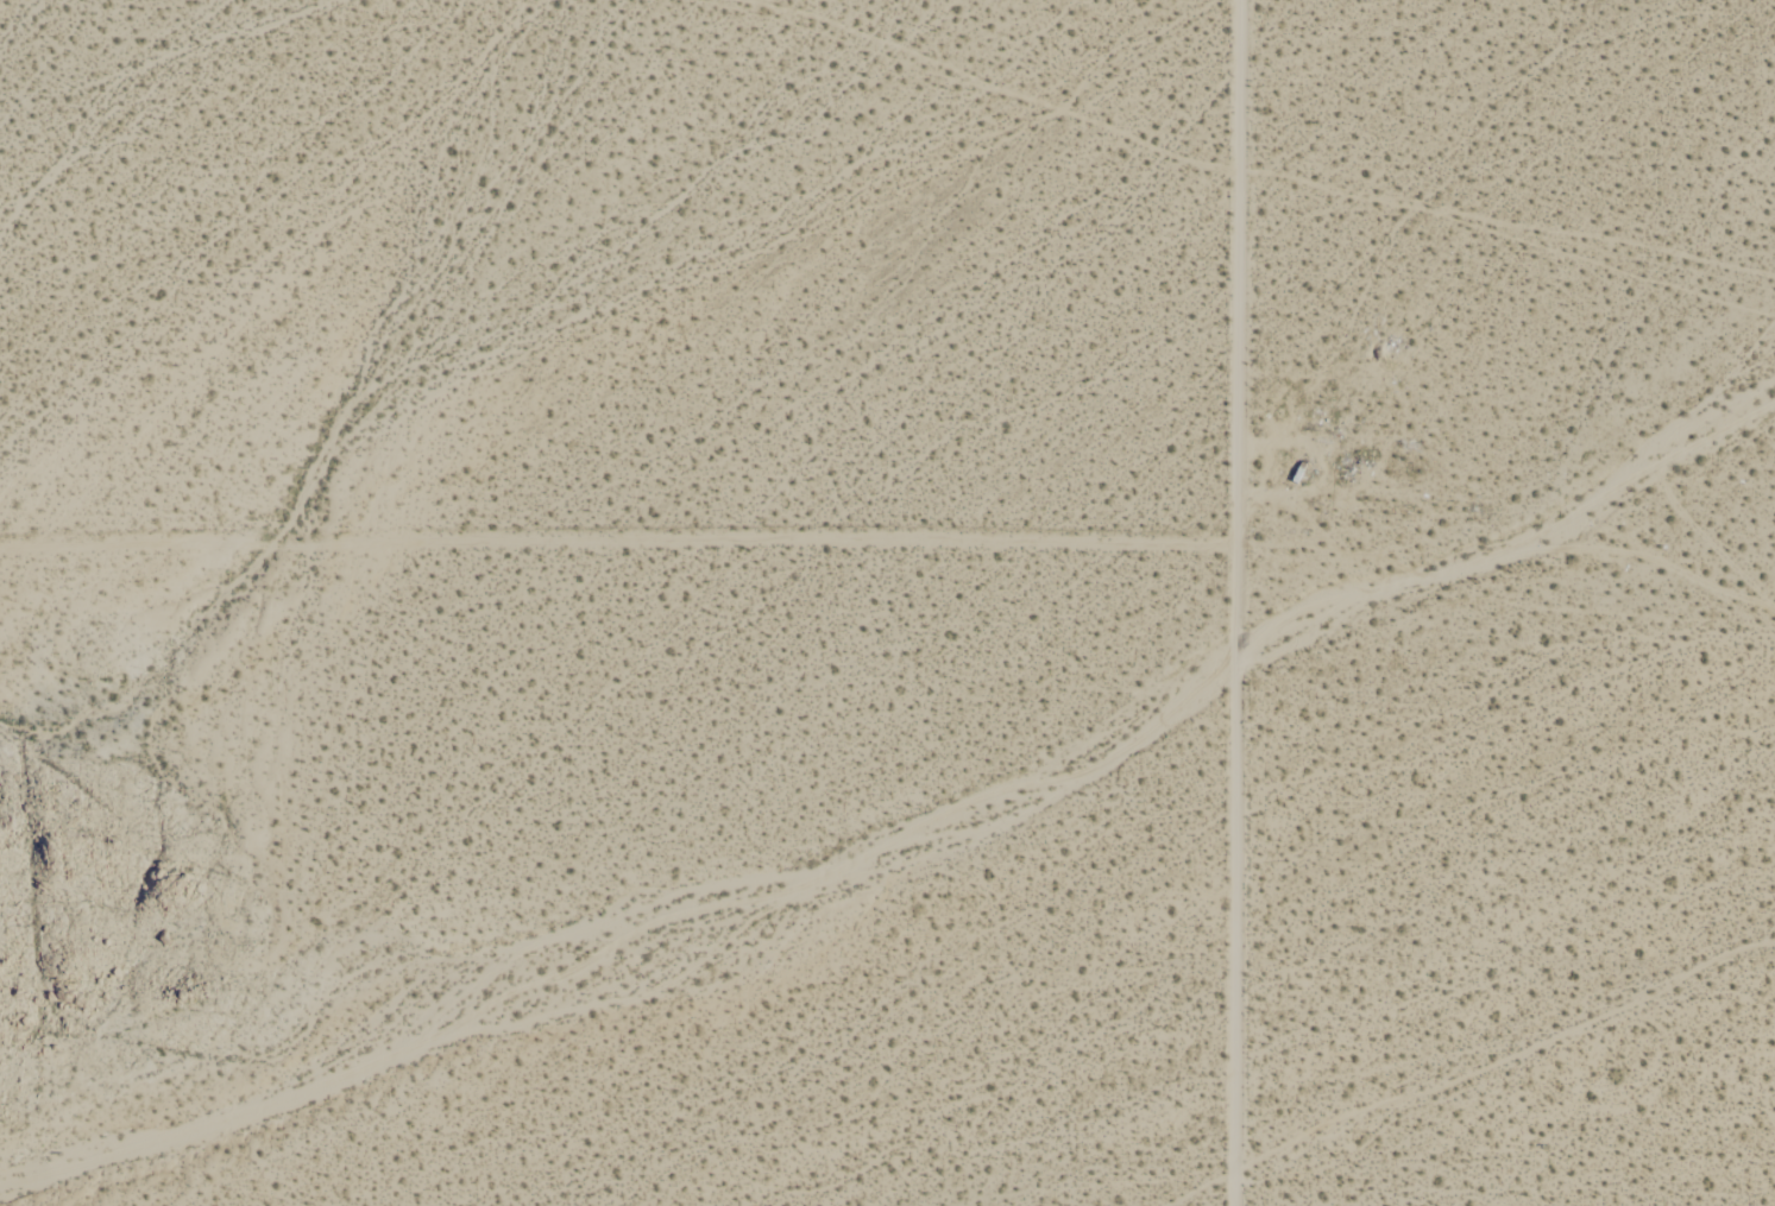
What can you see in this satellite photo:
road: (1250, 602)

